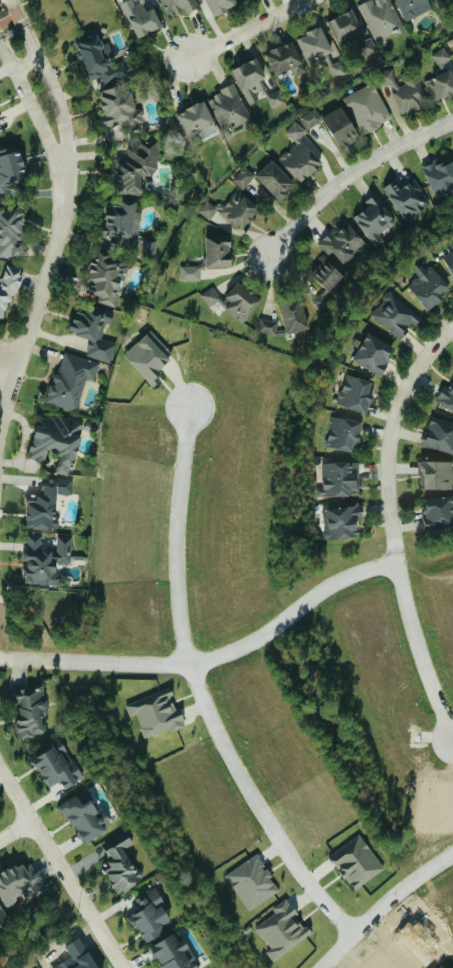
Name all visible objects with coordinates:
building: (240, 0)
building: (434, 0)
building: (219, 5)
building: (179, 6)
road: (13, 7)
building: (413, 7)
building: (141, 17)
road: (8, 18)
building: (381, 18)
road: (247, 30)
building: (350, 34)
building: (313, 44)
building: (442, 57)
building: (285, 59)
building: (98, 60)
road: (25, 62)
building: (249, 79)
road: (50, 82)
building: (440, 86)
building: (404, 91)
building: (275, 98)
road: (29, 100)
building: (119, 108)
building: (229, 108)
building: (368, 108)
building: (196, 121)
building: (332, 125)
building: (0, 131)
building: (299, 155)
building: (10, 166)
building: (135, 167)
road: (349, 174)
building: (244, 177)
building: (440, 179)
building: (274, 181)
building: (407, 198)
building: (231, 211)
building: (375, 219)
building: (120, 224)
building: (11, 232)
building: (342, 243)
building: (146, 247)
building: (217, 251)
building: (449, 261)
building: (194, 272)
building: (107, 278)
building: (325, 282)
building: (428, 286)
building: (9, 287)
road: (39, 291)
building: (234, 301)
building: (395, 315)
building: (293, 316)
building: (267, 326)
building: (94, 332)
building: (373, 354)
building: (148, 357)
road: (7, 364)
building: (71, 380)
building: (355, 394)
building: (446, 397)
building: (343, 434)
building: (439, 435)
building: (56, 441)
building: (436, 475)
building: (339, 479)
building: (45, 504)
building: (438, 513)
building: (342, 522)
road: (391, 525)
building: (45, 560)
road: (210, 657)
road: (199, 694)
building: (30, 710)
building: (156, 713)
building: (55, 765)
building: (85, 817)
road: (15, 832)
building: (357, 861)
building: (121, 866)
road: (60, 870)
building: (19, 882)
building: (252, 882)
road: (382, 905)
building: (149, 915)
building: (2, 917)
building: (282, 929)
building: (173, 953)

